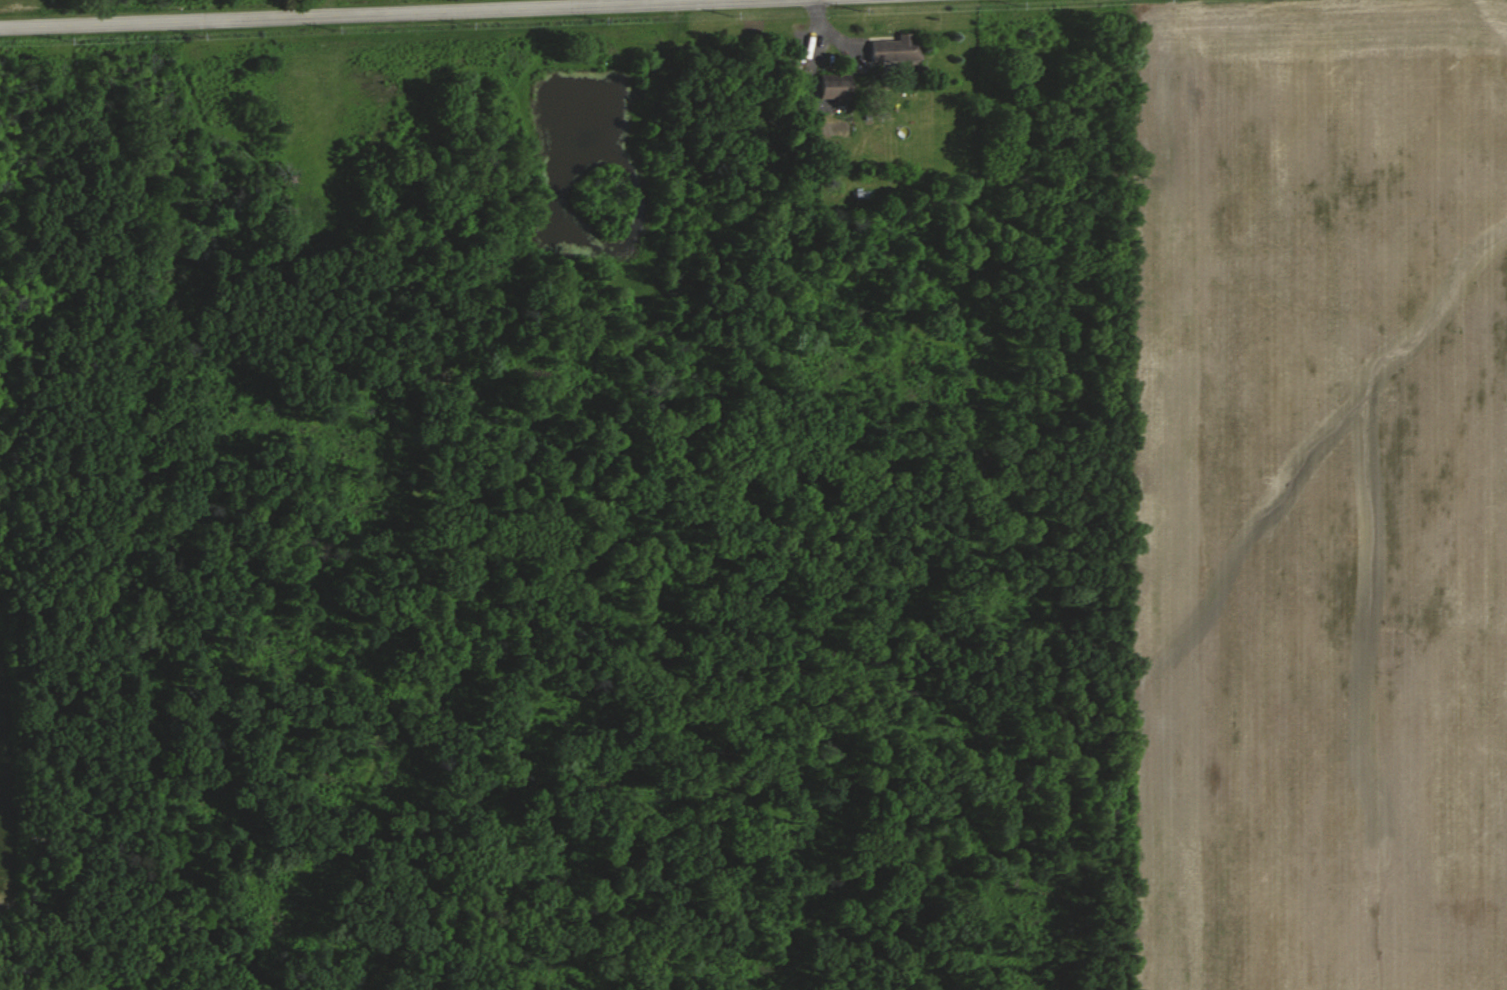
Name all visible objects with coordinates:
road: (307, 11)
building: (896, 47)
building: (839, 86)

